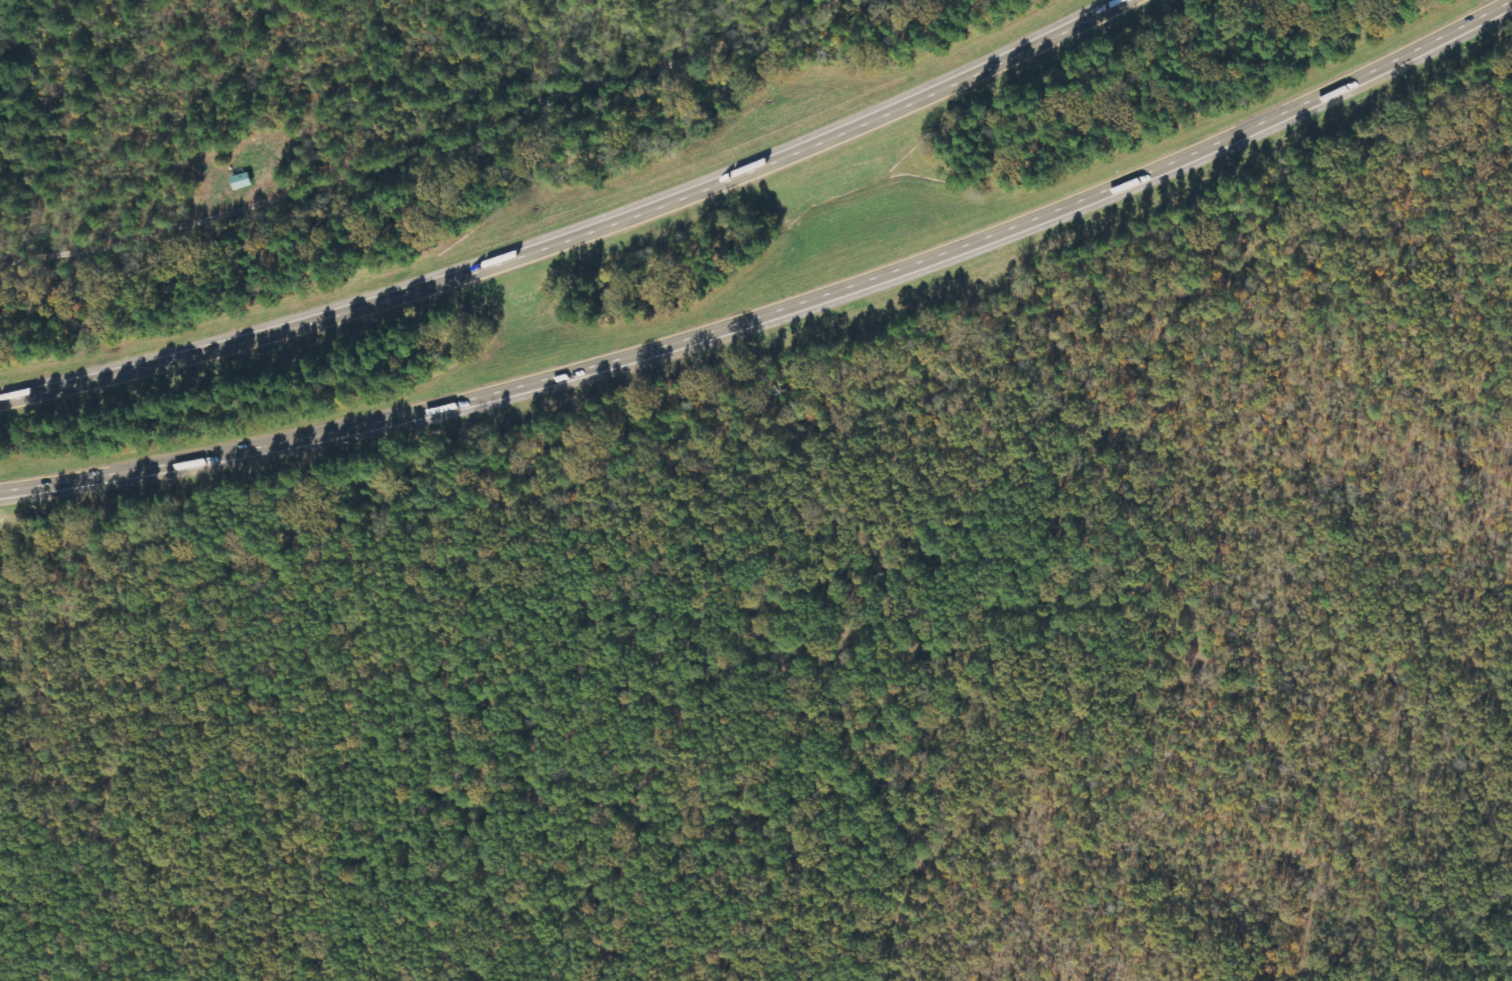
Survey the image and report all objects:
building: (240, 181)
road: (570, 231)
road: (770, 304)

